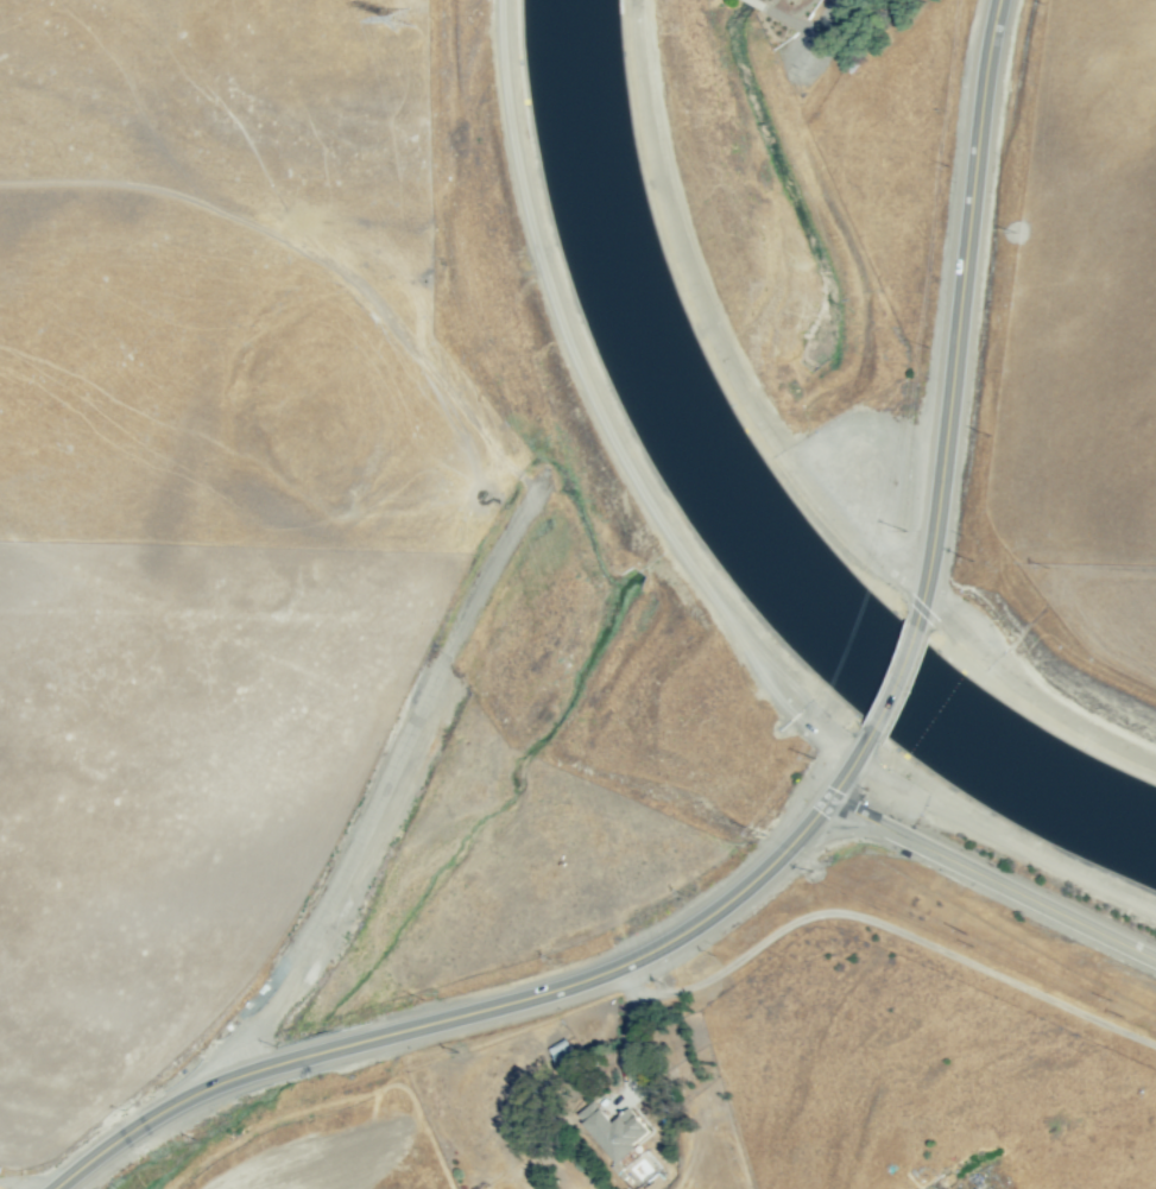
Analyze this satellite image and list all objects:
road: (752, 5)
power tower: (413, 8)
road: (826, 17)
road: (788, 21)
road: (964, 314)
road: (732, 317)
road: (593, 407)
road: (1040, 656)
road: (893, 683)
road: (994, 874)
road: (876, 925)
road: (499, 1007)
road: (623, 1037)
building: (613, 1132)
road: (38, 1183)

